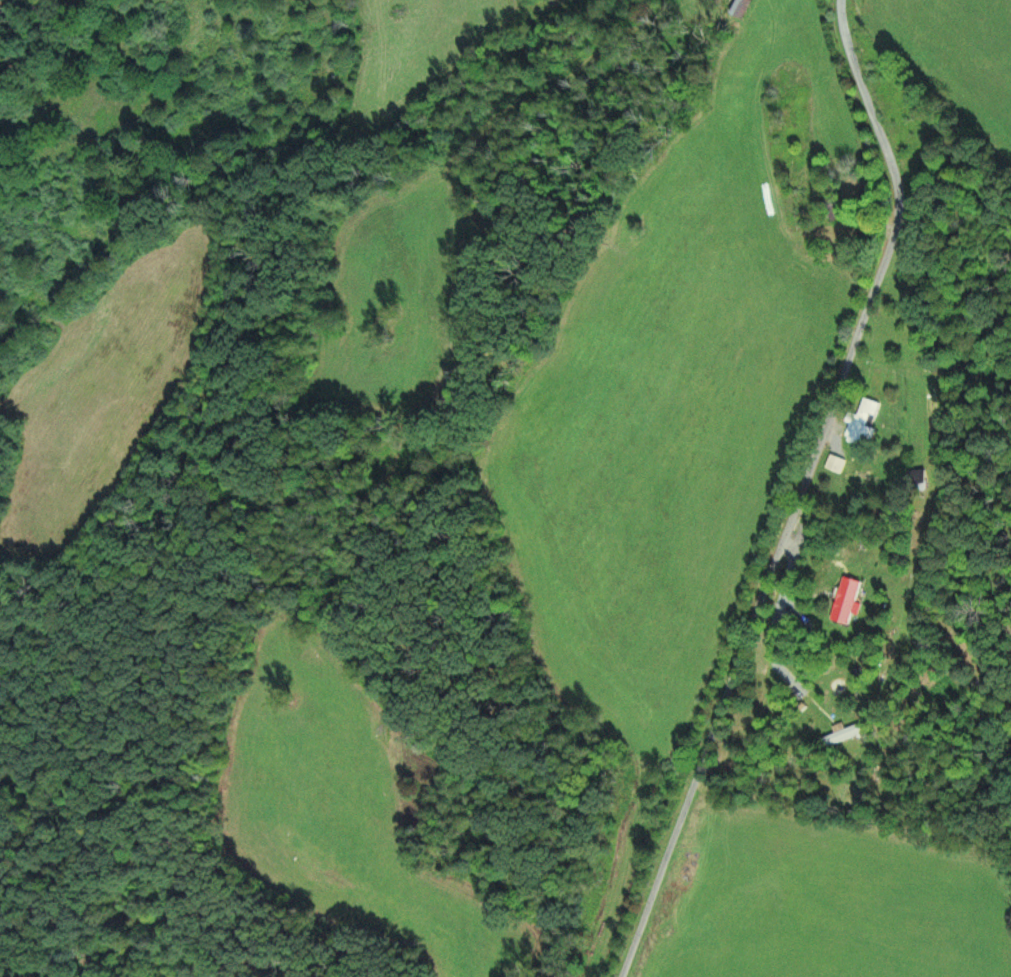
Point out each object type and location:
building: (741, 7)
building: (867, 415)
building: (836, 463)
building: (917, 480)
road: (801, 492)
building: (846, 600)
building: (842, 736)

